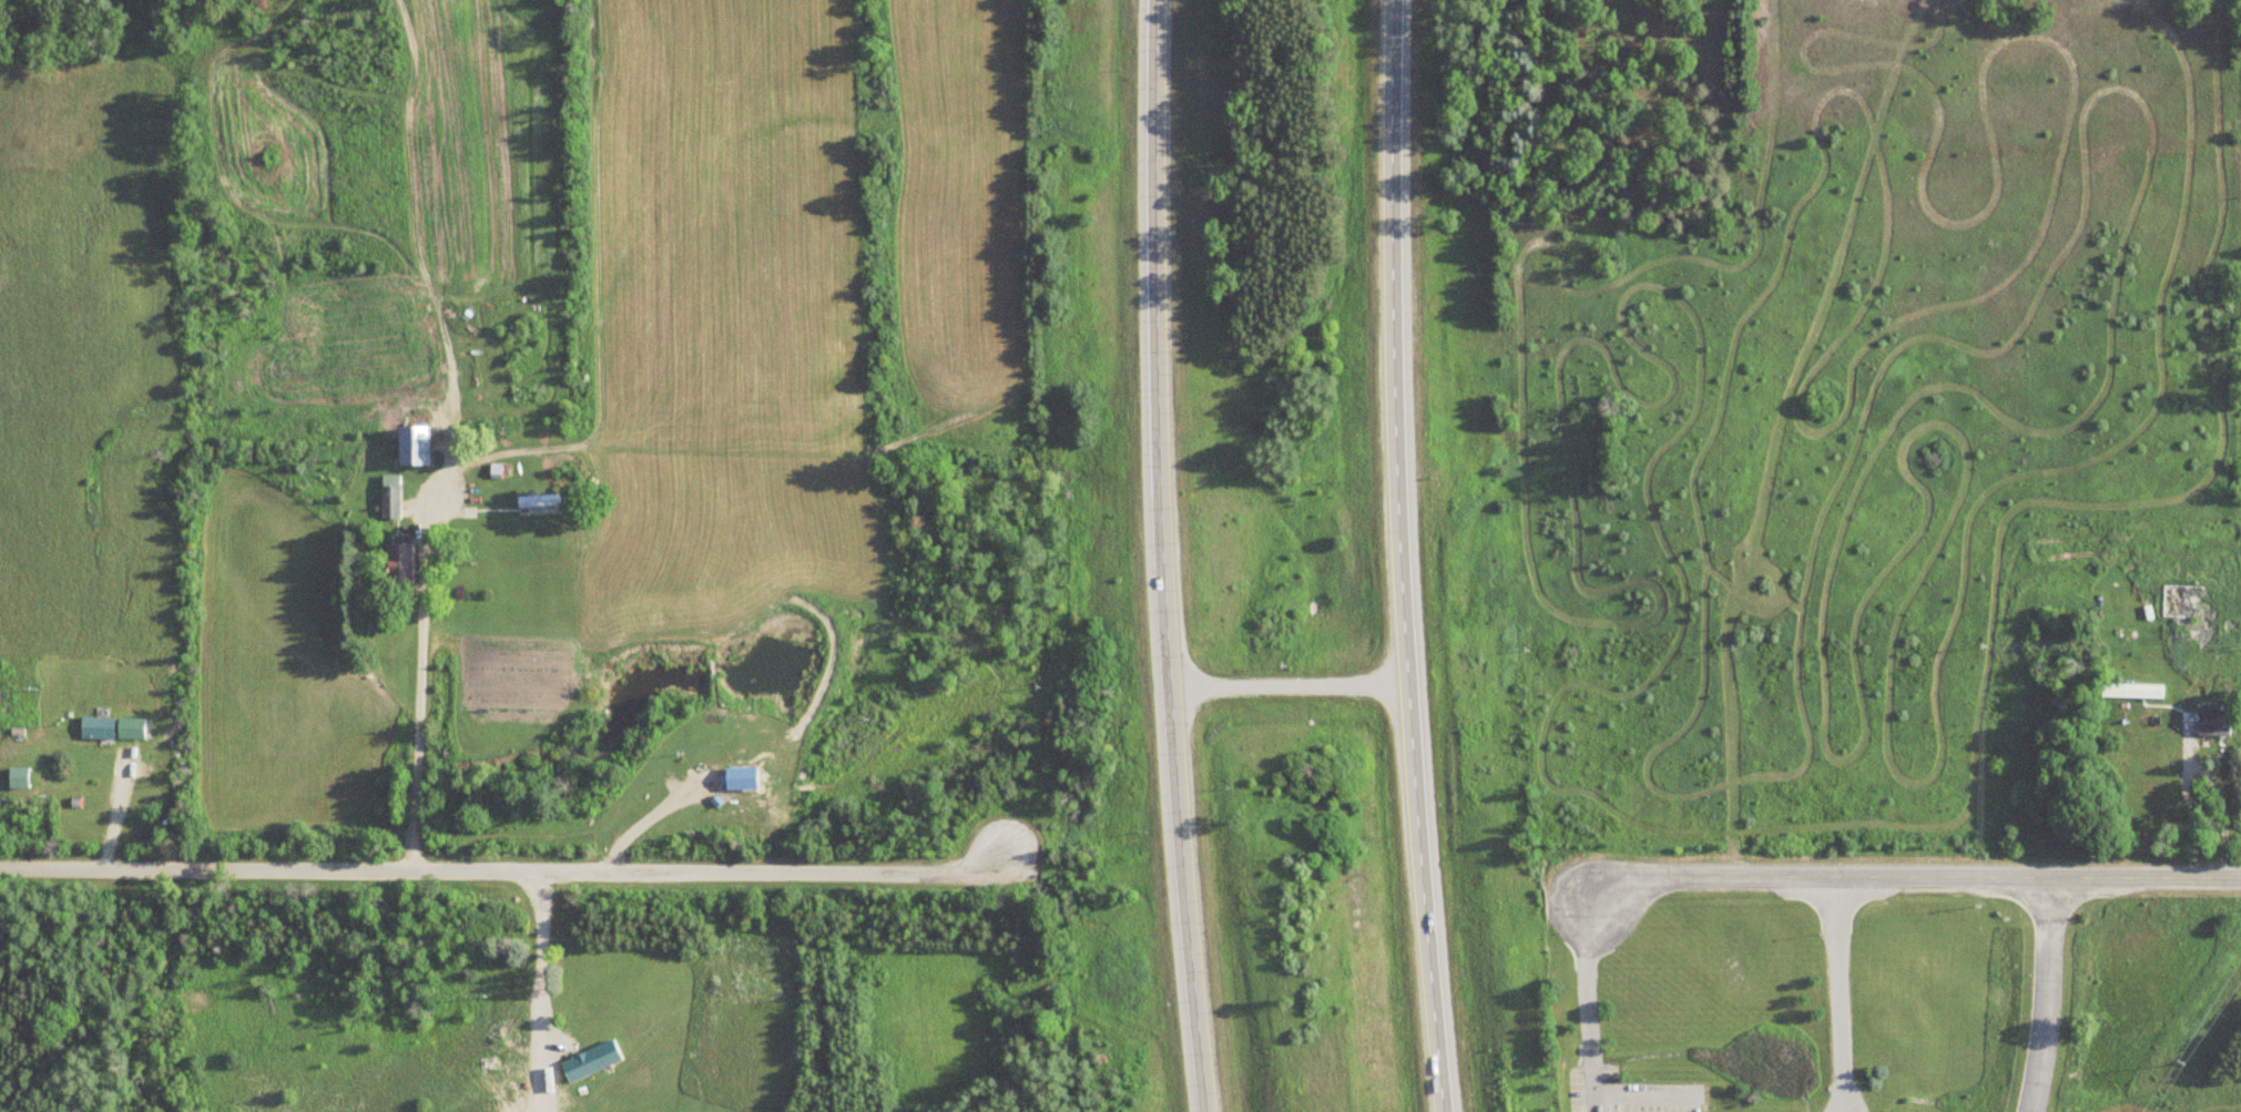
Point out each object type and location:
crop: (960, 194)
crop: (723, 226)
building: (407, 448)
building: (387, 497)
building: (533, 502)
road: (1170, 557)
road: (1398, 557)
building: (395, 564)
building: (2173, 603)
road: (1290, 687)
building: (2128, 691)
building: (2209, 723)
building: (91, 727)
building: (124, 728)
road: (503, 869)
road: (1913, 879)
road: (1837, 994)
road: (2045, 997)

